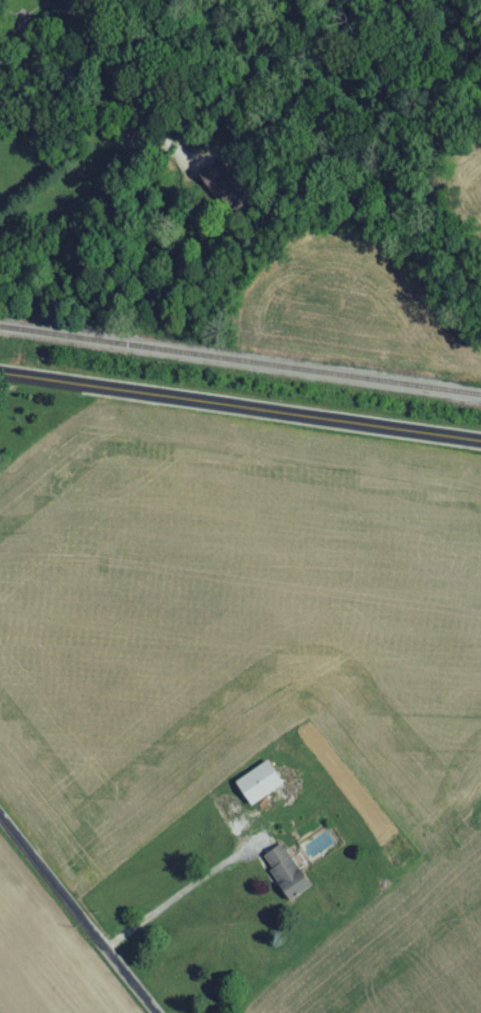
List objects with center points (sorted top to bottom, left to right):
road: (66, 70)
railway: (240, 365)
road: (7, 390)
road: (240, 411)
building: (262, 787)
building: (289, 877)
road: (176, 896)
road: (77, 915)

